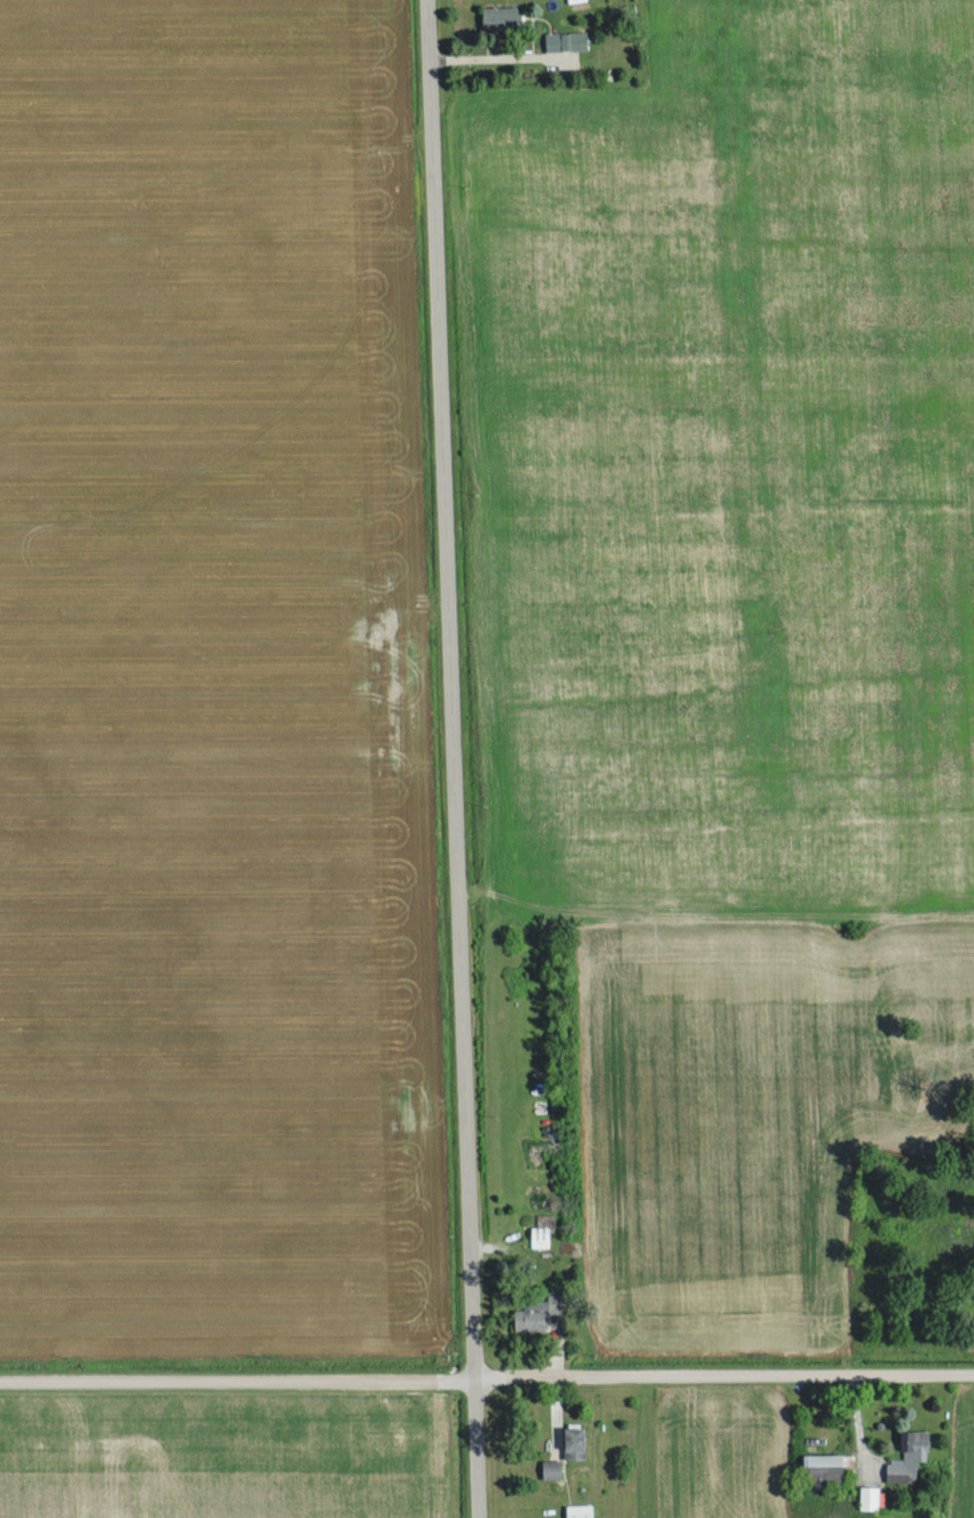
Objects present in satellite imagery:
building: (496, 19)
building: (561, 43)
crop: (734, 614)
crop: (211, 688)
road: (456, 759)
road: (486, 1375)
crop: (710, 1454)
crop: (222, 1455)
crop: (964, 1456)
building: (903, 1458)
building: (819, 1471)
building: (546, 1473)
building: (574, 1512)

